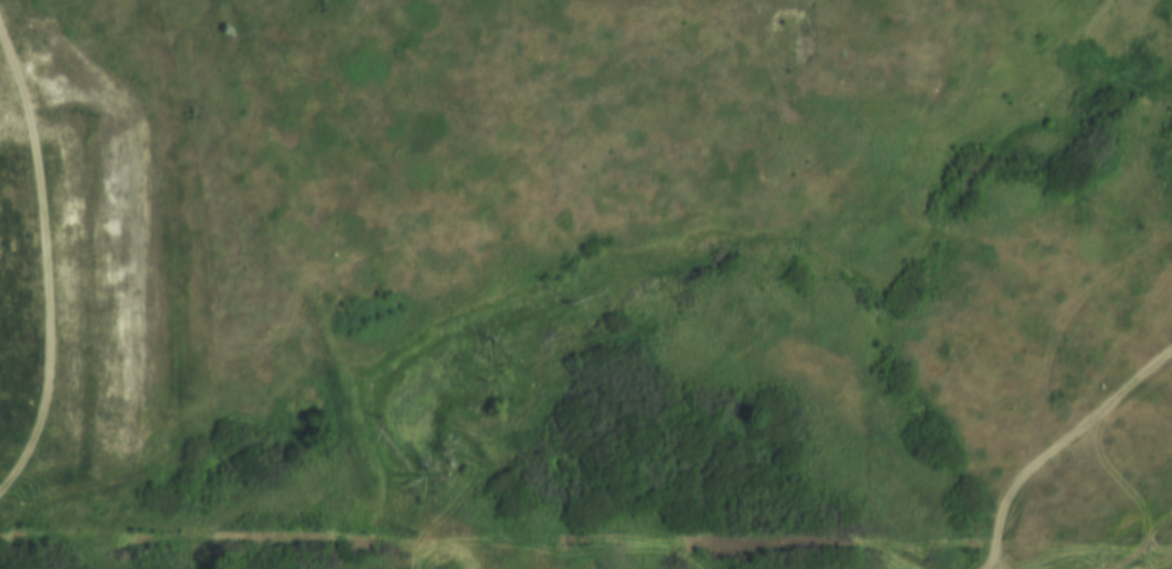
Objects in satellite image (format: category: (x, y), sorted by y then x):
road: (349, 180)
road: (137, 225)
road: (927, 231)
road: (135, 356)

